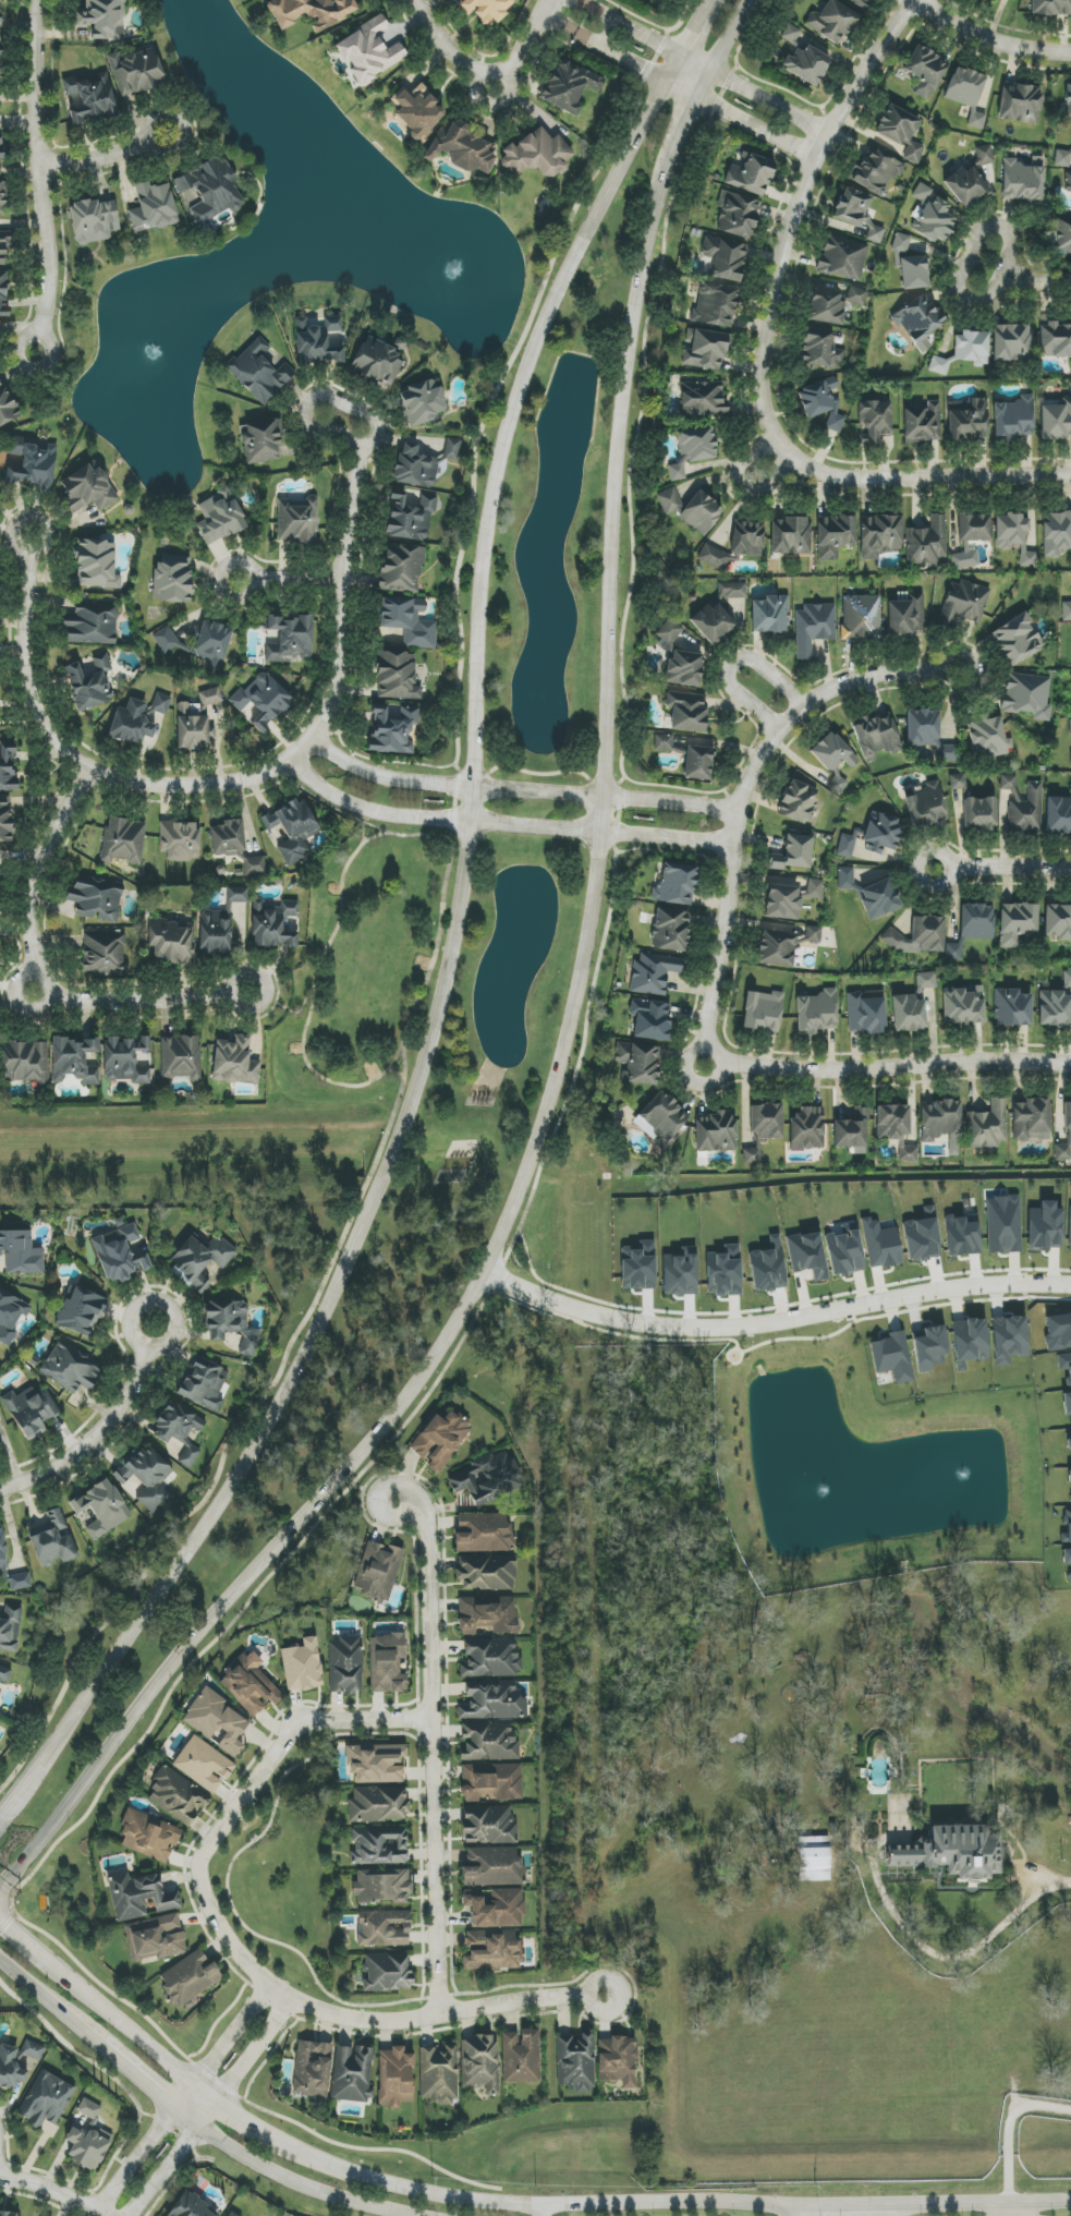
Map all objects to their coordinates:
building: (998, 0)
building: (1, 1)
building: (861, 3)
building: (1050, 8)
building: (485, 9)
building: (309, 11)
building: (102, 19)
building: (832, 22)
building: (0, 40)
road: (524, 45)
road: (987, 45)
road: (449, 48)
building: (368, 51)
building: (803, 58)
road: (706, 59)
building: (925, 70)
building: (136, 72)
building: (569, 86)
road: (676, 86)
building: (967, 93)
building: (92, 97)
building: (1067, 99)
building: (1020, 102)
building: (417, 111)
building: (900, 131)
building: (0, 144)
building: (462, 147)
building: (537, 154)
road: (104, 157)
building: (1062, 158)
building: (875, 170)
building: (751, 174)
road: (40, 177)
building: (970, 178)
building: (1023, 180)
building: (1068, 181)
building: (1, 190)
building: (212, 191)
building: (153, 206)
building: (857, 214)
building: (737, 215)
building: (932, 215)
building: (94, 220)
building: (1061, 235)
building: (901, 243)
building: (4, 244)
building: (725, 257)
building: (842, 257)
fountain: (458, 267)
building: (914, 273)
road: (1024, 281)
building: (2, 293)
building: (833, 302)
building: (715, 305)
building: (918, 322)
building: (1055, 340)
building: (318, 341)
building: (1012, 342)
building: (972, 347)
fountain: (159, 349)
building: (819, 349)
building: (706, 351)
road: (763, 353)
building: (376, 362)
building: (939, 365)
building: (260, 371)
building: (703, 399)
building: (823, 402)
building: (423, 403)
building: (7, 405)
building: (1013, 419)
building: (874, 420)
building: (967, 420)
building: (1056, 420)
building: (922, 424)
building: (260, 441)
building: (697, 444)
building: (452, 449)
building: (33, 465)
building: (415, 467)
building: (677, 472)
building: (0, 488)
building: (87, 489)
building: (691, 509)
building: (220, 516)
building: (410, 516)
building: (296, 520)
building: (974, 528)
building: (1056, 533)
building: (790, 535)
building: (835, 535)
building: (879, 535)
building: (1013, 536)
road: (45, 541)
building: (926, 542)
building: (735, 545)
building: (96, 565)
building: (402, 569)
building: (172, 579)
road: (289, 580)
building: (963, 603)
building: (1066, 610)
building: (723, 611)
building: (770, 615)
building: (905, 615)
building: (861, 618)
building: (90, 625)
building: (813, 628)
building: (669, 633)
building: (1017, 639)
building: (290, 640)
building: (199, 644)
building: (683, 668)
road: (891, 673)
building: (397, 676)
building: (90, 681)
building: (1027, 695)
building: (210, 697)
road: (819, 697)
building: (263, 700)
building: (686, 712)
building: (138, 718)
road: (793, 718)
building: (194, 727)
building: (1070, 728)
building: (391, 731)
building: (928, 734)
building: (876, 737)
building: (988, 738)
road: (309, 741)
building: (665, 742)
building: (832, 752)
building: (697, 763)
building: (8, 766)
building: (1009, 784)
building: (837, 785)
road: (520, 791)
building: (798, 801)
road: (737, 802)
building: (926, 806)
building: (979, 814)
building: (1058, 815)
building: (5, 818)
road: (499, 827)
building: (291, 830)
building: (881, 834)
building: (227, 837)
building: (123, 840)
building: (181, 841)
building: (845, 846)
building: (794, 853)
road: (999, 865)
building: (254, 867)
building: (845, 877)
building: (676, 885)
road: (461, 888)
building: (236, 895)
building: (790, 898)
building: (879, 899)
building: (95, 900)
building: (976, 921)
building: (1017, 922)
building: (1058, 922)
building: (272, 924)
building: (671, 930)
building: (216, 931)
building: (920, 935)
building: (170, 942)
building: (783, 945)
building: (953, 952)
building: (104, 954)
building: (653, 973)
building: (925, 982)
road: (32, 984)
building: (963, 1005)
building: (1056, 1005)
building: (1012, 1007)
building: (762, 1012)
building: (816, 1013)
building: (908, 1013)
building: (865, 1014)
building: (650, 1020)
road: (565, 1021)
building: (182, 1058)
road: (883, 1058)
building: (74, 1059)
building: (126, 1059)
building: (25, 1062)
building: (234, 1062)
building: (638, 1063)
building: (661, 1118)
building: (1031, 1119)
building: (766, 1121)
building: (892, 1122)
building: (941, 1123)
building: (987, 1126)
building: (806, 1129)
building: (851, 1129)
building: (1063, 1130)
building: (716, 1131)
building: (752, 1154)
building: (908, 1154)
building: (1003, 1224)
building: (1045, 1227)
building: (1070, 1230)
building: (961, 1236)
building: (921, 1239)
building: (880, 1244)
building: (844, 1250)
building: (20, 1252)
building: (120, 1254)
building: (806, 1255)
building: (200, 1259)
building: (679, 1274)
building: (81, 1311)
building: (11, 1316)
building: (230, 1323)
road: (772, 1324)
road: (131, 1330)
building: (1058, 1332)
building: (970, 1340)
building: (1009, 1340)
building: (929, 1348)
building: (892, 1357)
building: (71, 1368)
building: (204, 1383)
building: (1067, 1403)
building: (32, 1410)
building: (178, 1433)
road: (94, 1438)
building: (440, 1440)
building: (1068, 1440)
building: (146, 1477)
building: (1069, 1477)
building: (486, 1478)
fountain: (963, 1484)
fountain: (826, 1499)
building: (101, 1507)
road: (407, 1513)
building: (1067, 1526)
building: (484, 1533)
building: (53, 1540)
building: (2, 1550)
building: (1067, 1560)
building: (377, 1571)
building: (487, 1572)
building: (20, 1582)
building: (487, 1615)
building: (10, 1627)
building: (490, 1658)
building: (387, 1663)
building: (302, 1666)
building: (345, 1666)
building: (4, 1674)
building: (250, 1685)
building: (492, 1702)
building: (217, 1722)
building: (488, 1742)
road: (431, 1758)
building: (376, 1763)
road: (32, 1771)
building: (190, 1780)
building: (491, 1782)
building: (378, 1804)
road: (235, 1808)
building: (488, 1826)
building: (148, 1836)
building: (379, 1845)
building: (951, 1852)
building: (814, 1858)
road: (421, 1866)
building: (494, 1867)
road: (229, 1870)
road: (1051, 1882)
building: (382, 1886)
building: (141, 1897)
road: (10, 1909)
traffic signals: (12, 1928)
building: (384, 1928)
building: (156, 1938)
building: (492, 1950)
road: (39, 1951)
building: (387, 1972)
building: (187, 1978)
road: (48, 2001)
road: (447, 2012)
road: (137, 2034)
road: (232, 2036)
road: (256, 2051)
building: (521, 2056)
building: (618, 2061)
building: (575, 2062)
building: (16, 2063)
building: (480, 2063)
building: (312, 2069)
building: (352, 2073)
building: (439, 2073)
building: (395, 2076)
road: (148, 2087)
building: (46, 2099)
road: (235, 2110)
road: (1009, 2126)
road: (144, 2146)
road: (177, 2158)
road: (302, 2184)
road: (52, 2190)
road: (985, 2201)
road: (843, 2204)
road: (524, 2205)
building: (191, 2207)
road: (1008, 2207)
road: (788, 2209)
road: (544, 2211)
building: (9, 2214)
building: (230, 2214)

